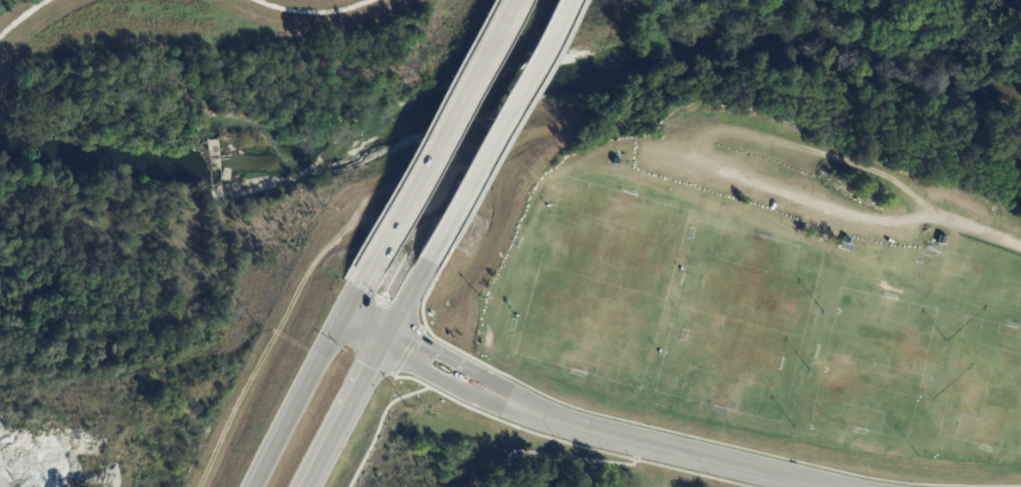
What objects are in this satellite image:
road: (499, 129)
road: (509, 132)
road: (435, 143)
road: (425, 296)
road: (409, 299)
road: (351, 302)
road: (364, 328)
park: (771, 338)
park: (708, 344)
road: (408, 348)
road: (298, 402)
road: (345, 413)
road: (510, 423)
road: (378, 425)
road: (599, 433)
road: (713, 441)
road: (555, 453)
park: (513, 457)

